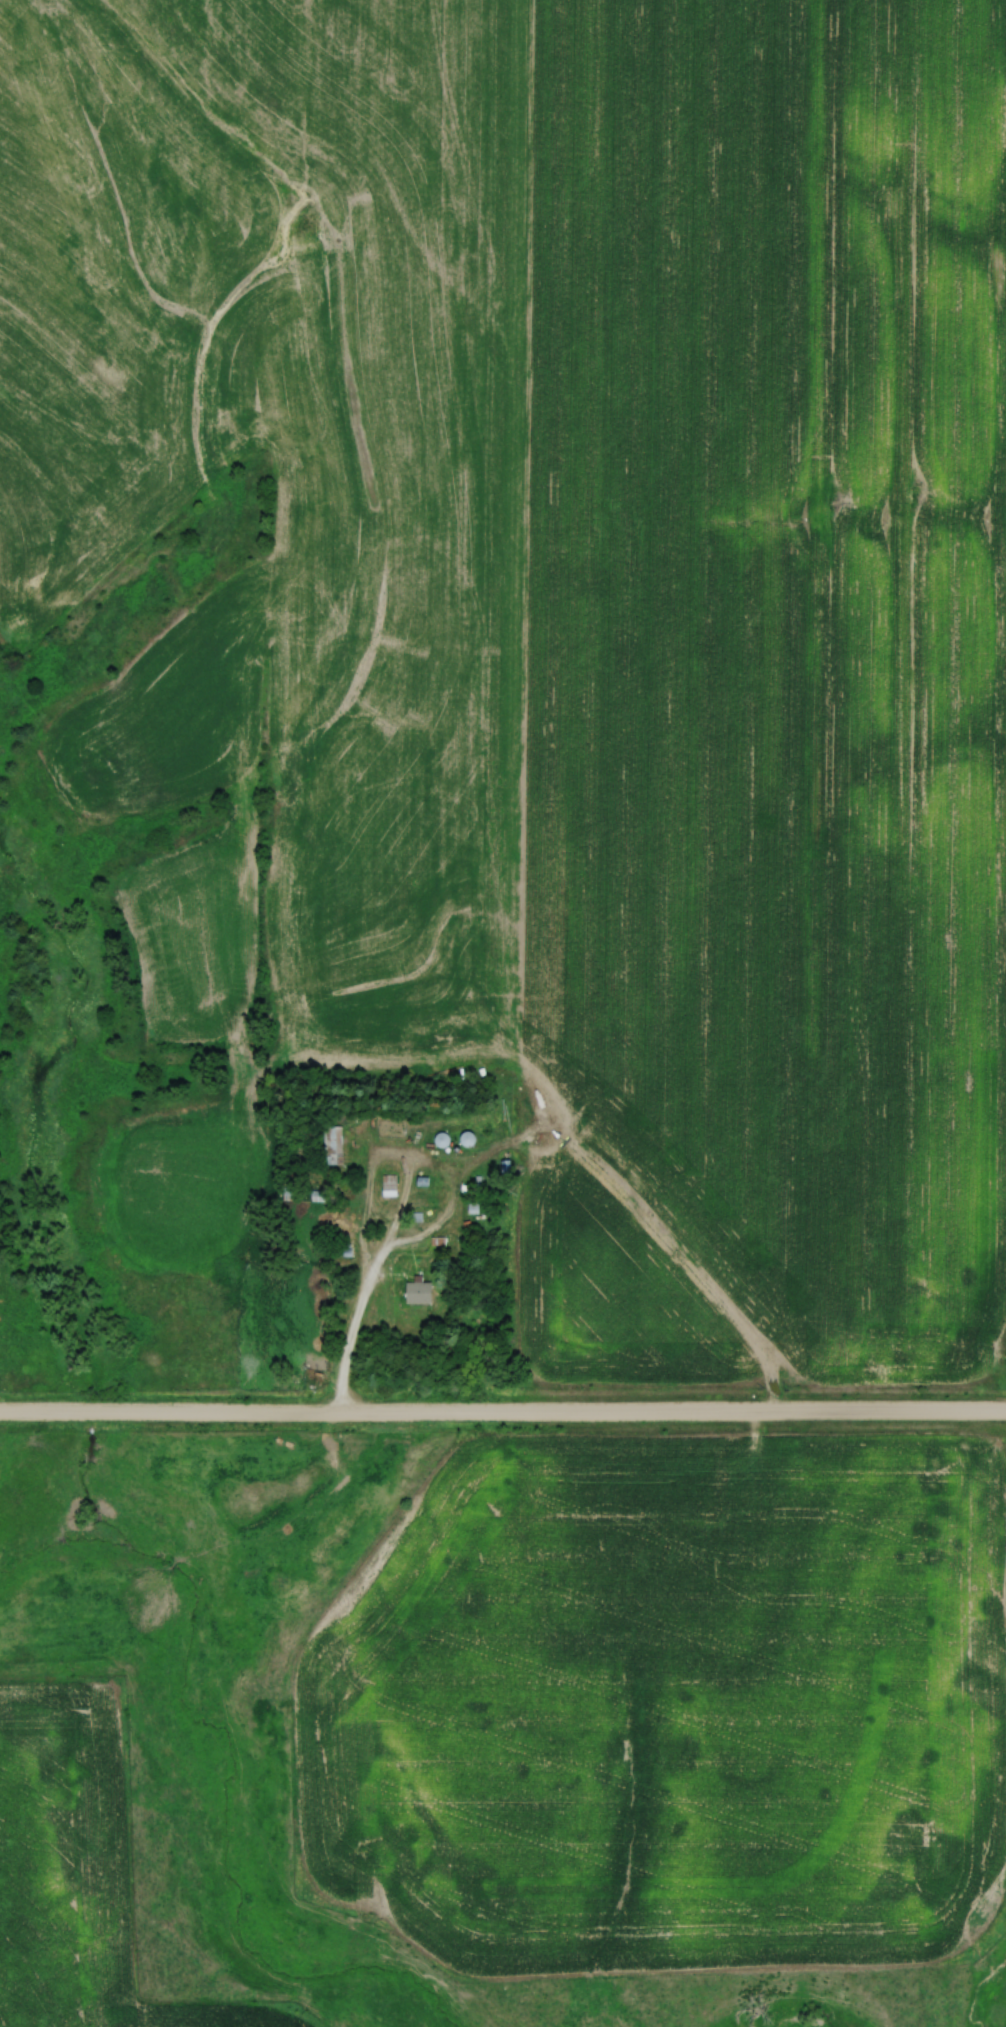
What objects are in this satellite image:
building: (441, 1139)
building: (467, 1139)
building: (336, 1140)
building: (506, 1166)
building: (389, 1185)
building: (476, 1194)
building: (420, 1293)
road: (357, 1307)
road: (503, 1414)

